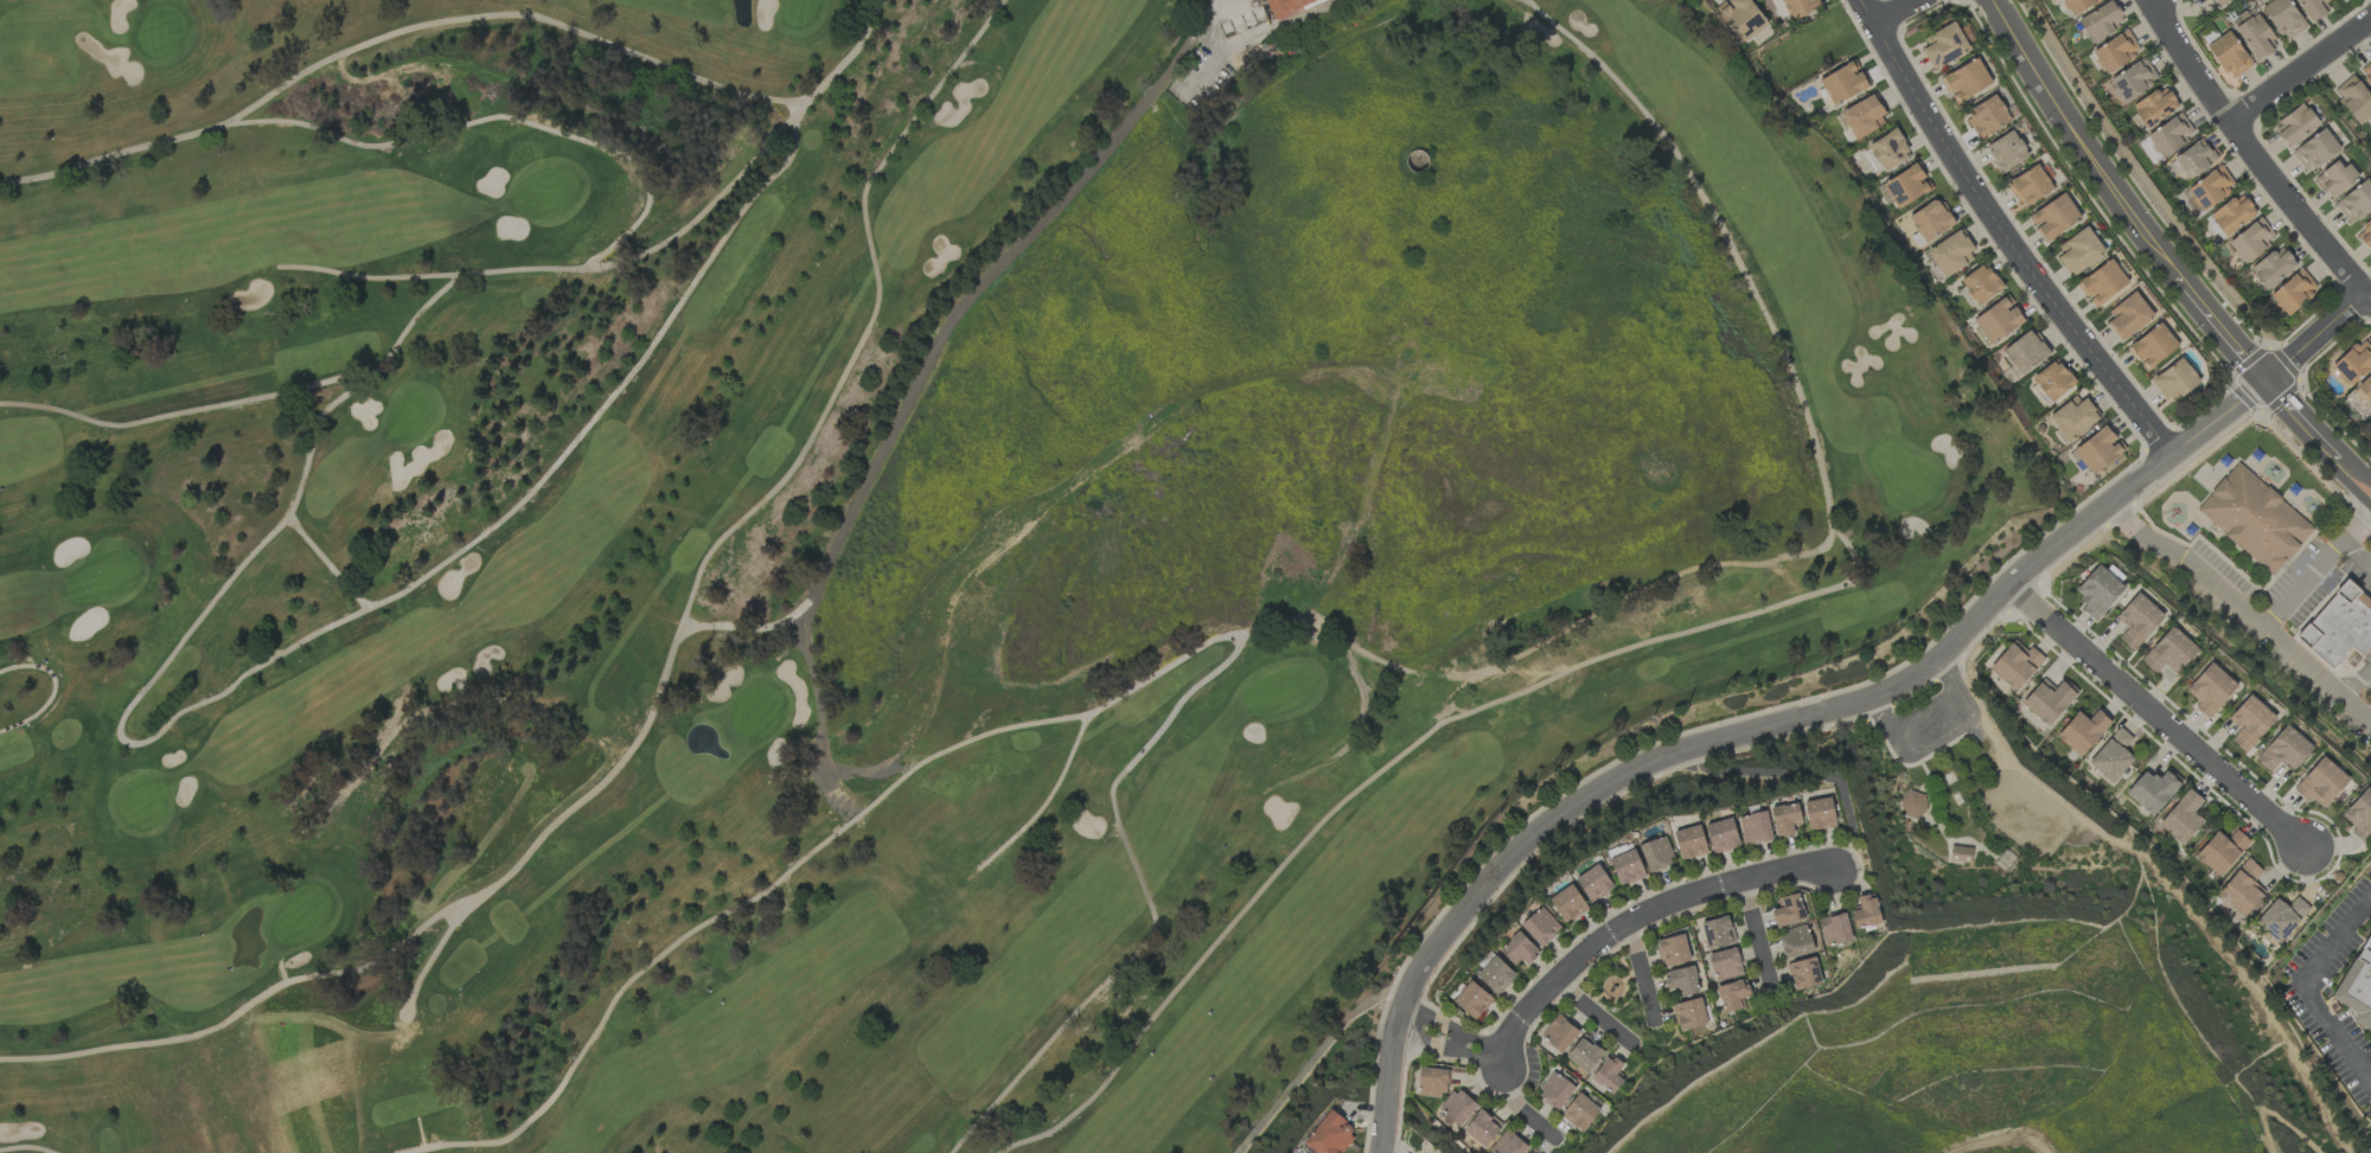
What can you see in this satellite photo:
building: (2219, 2)
building: (1282, 5)
building: (2076, 5)
building: (1800, 7)
building: (2313, 8)
road: (1897, 13)
building: (1741, 18)
building: (2283, 18)
building: (2101, 20)
building: (1944, 46)
building: (2115, 51)
building: (2229, 55)
road: (2299, 69)
building: (2366, 72)
building: (1966, 79)
building: (2133, 79)
building: (1843, 83)
building: (2353, 98)
building: (2154, 107)
building: (1862, 116)
building: (1986, 116)
building: (2294, 124)
building: (2171, 134)
building: (1889, 149)
building: (2314, 150)
building: (2005, 152)
road: (2255, 156)
building: (2193, 159)
building: (2334, 178)
building: (2028, 185)
building: (1906, 186)
building: (2210, 186)
building: (2354, 201)
building: (2232, 214)
building: (2053, 217)
building: (1929, 222)
road: (2014, 229)
building: (2365, 235)
building: (2251, 239)
building: (2078, 250)
building: (1950, 254)
road: (2166, 255)
building: (2273, 267)
building: (2101, 282)
building: (1980, 283)
road: (973, 290)
building: (2293, 292)
building: (2127, 316)
building: (1998, 319)
building: (2152, 346)
building: (2022, 354)
building: (2353, 361)
building: (2174, 380)
building: (2051, 382)
building: (2365, 389)
building: (2072, 417)
building: (2097, 449)
building: (2254, 518)
park: (884, 539)
road: (2356, 555)
road: (2314, 569)
building: (2097, 591)
road: (2241, 610)
building: (2136, 620)
building: (2339, 626)
building: (2168, 652)
building: (2015, 665)
road: (2357, 680)
building: (2209, 688)
building: (2049, 699)
road: (1824, 710)
road: (2155, 716)
building: (2249, 722)
building: (2082, 731)
road: (1939, 737)
building: (2283, 750)
building: (2111, 755)
building: (2320, 782)
building: (2153, 789)
building: (1912, 803)
building: (1819, 814)
building: (2359, 815)
park: (1982, 818)
building: (2181, 818)
building: (1784, 819)
building: (1753, 828)
building: (1721, 835)
building: (1689, 843)
building: (2220, 851)
building: (1960, 853)
building: (1655, 854)
building: (1627, 867)
building: (1593, 883)
building: (2242, 888)
building: (1567, 903)
building: (1787, 910)
building: (1865, 911)
road: (1637, 917)
building: (2280, 917)
building: (1540, 925)
building: (1834, 929)
road: (1756, 930)
building: (1717, 931)
building: (1795, 941)
building: (1519, 949)
building: (1672, 950)
building: (1724, 963)
road: (1641, 972)
building: (1803, 973)
building: (1495, 975)
building: (1681, 981)
building: (2357, 986)
road: (2315, 987)
building: (1732, 995)
building: (1471, 1000)
road: (1596, 1013)
building: (1688, 1013)
building: (1559, 1032)
road: (1449, 1039)
building: (1584, 1053)
building: (1608, 1074)
building: (1432, 1082)
building: (1554, 1091)
building: (1456, 1107)
road: (1516, 1109)
building: (1579, 1112)
road: (2283, 1122)
building: (1482, 1128)
building: (1329, 1134)
building: (1508, 1144)
road: (2025, 1145)
building: (1532, 1151)

